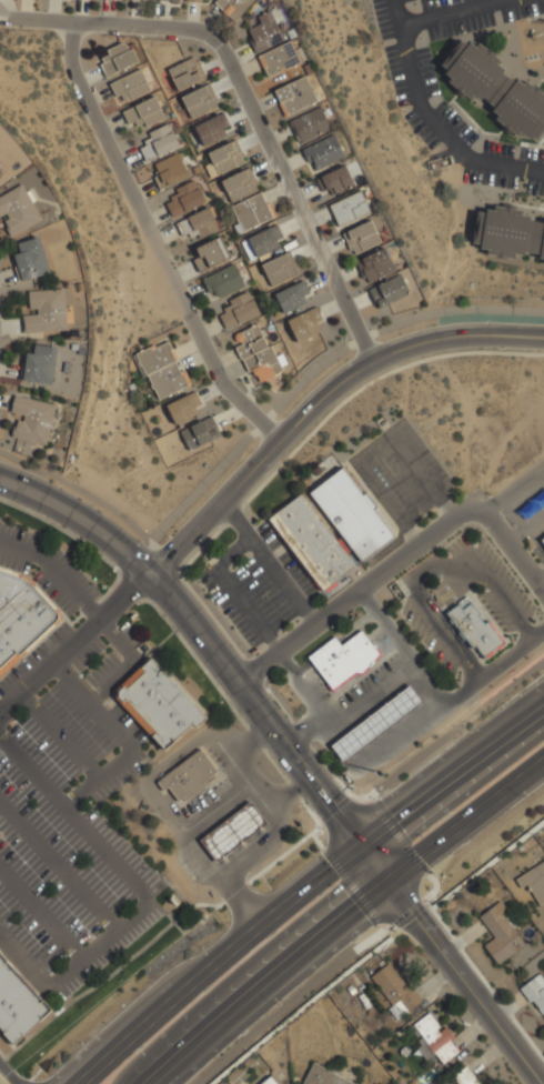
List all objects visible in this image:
building: (170, 0)
building: (193, 0)
parking lot: (405, 1)
parking lot: (436, 3)
building: (232, 7)
parking lot: (522, 11)
road: (451, 13)
parking lot: (382, 19)
parking lot: (460, 27)
building: (265, 32)
street lamp: (419, 39)
building: (115, 59)
building: (278, 59)
parking lot: (426, 72)
building: (184, 73)
parking lot: (395, 76)
building: (129, 87)
building: (495, 89)
building: (295, 96)
building: (198, 101)
street lamp: (450, 106)
road: (249, 107)
building: (143, 112)
street lamp: (403, 112)
road: (431, 121)
parking lot: (454, 123)
building: (309, 124)
building: (212, 130)
parking lot: (420, 130)
street lamp: (501, 141)
building: (160, 142)
street lamp: (440, 145)
parking lot: (496, 149)
building: (323, 152)
parking lot: (530, 155)
building: (224, 158)
building: (171, 171)
building: (0, 172)
parking lot: (490, 179)
building: (334, 180)
building: (239, 184)
parking lot: (534, 188)
building: (183, 199)
building: (349, 209)
building: (18, 210)
building: (250, 212)
building: (198, 223)
building: (507, 232)
building: (361, 238)
road: (152, 241)
building: (265, 241)
building: (209, 254)
building: (31, 259)
building: (375, 265)
building: (279, 268)
building: (222, 282)
building: (389, 291)
building: (292, 297)
building: (46, 311)
building: (236, 311)
building: (305, 324)
building: (256, 354)
street lamp: (345, 360)
building: (40, 364)
building: (161, 370)
road: (319, 400)
building: (183, 408)
building: (32, 419)
building: (200, 433)
road: (373, 449)
parking lot: (402, 486)
road: (513, 490)
building: (352, 514)
parking lot: (266, 536)
street lamp: (485, 536)
building: (542, 540)
street lamp: (140, 541)
building: (311, 542)
parking lot: (455, 545)
road: (396, 562)
parking lot: (13, 563)
road: (268, 563)
road: (427, 566)
road: (54, 571)
parking lot: (296, 575)
parking lot: (504, 578)
street lamp: (102, 586)
street lamp: (431, 592)
road: (234, 593)
parking lot: (263, 593)
parking lot: (443, 593)
street lamp: (528, 593)
parking lot: (53, 594)
street lamp: (264, 594)
parking lot: (228, 610)
parking lot: (494, 611)
building: (20, 620)
building: (473, 626)
road: (385, 628)
street lamp: (334, 629)
parking lot: (429, 640)
road: (74, 642)
street lamp: (393, 650)
road: (213, 653)
parking lot: (87, 655)
parking lot: (33, 658)
building: (342, 659)
road: (494, 668)
parking lot: (100, 670)
street lamp: (302, 675)
street lamp: (82, 676)
parking lot: (367, 682)
road: (304, 685)
parking lot: (315, 686)
road: (434, 692)
building: (158, 703)
parking lot: (75, 722)
street lamp: (16, 723)
building: (375, 724)
gas station: (375, 724)
power tower: (374, 771)
building: (189, 777)
street lamp: (522, 792)
building: (232, 832)
traffic signals: (369, 853)
street lamp: (23, 863)
street lamp: (157, 872)
traffic signals: (385, 876)
building: (533, 882)
road: (314, 897)
road: (336, 915)
building: (500, 933)
road: (0, 934)
street lamp: (94, 939)
road: (464, 978)
building: (394, 990)
building: (535, 992)
street lamp: (272, 997)
building: (18, 1002)
building: (434, 1038)
road: (9, 1076)
building: (323, 1076)
building: (463, 1077)
building: (268, 1081)

